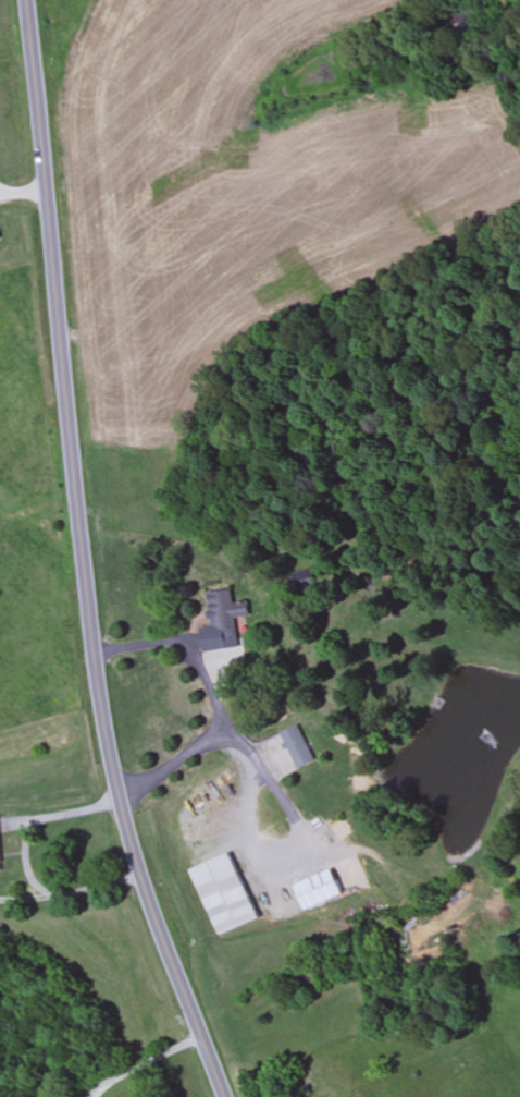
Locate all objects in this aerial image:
road: (81, 557)
building: (225, 614)
building: (301, 746)
building: (0, 861)
building: (319, 889)
building: (224, 894)
building: (321, 1074)
building: (371, 1095)

